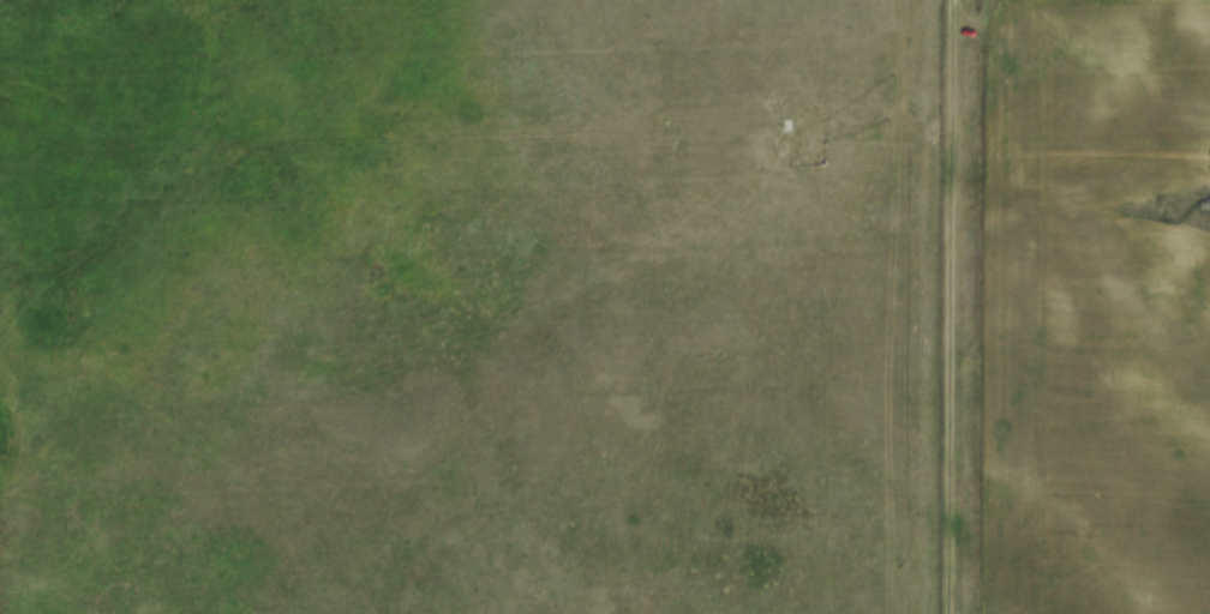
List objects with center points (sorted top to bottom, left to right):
road: (954, 307)

